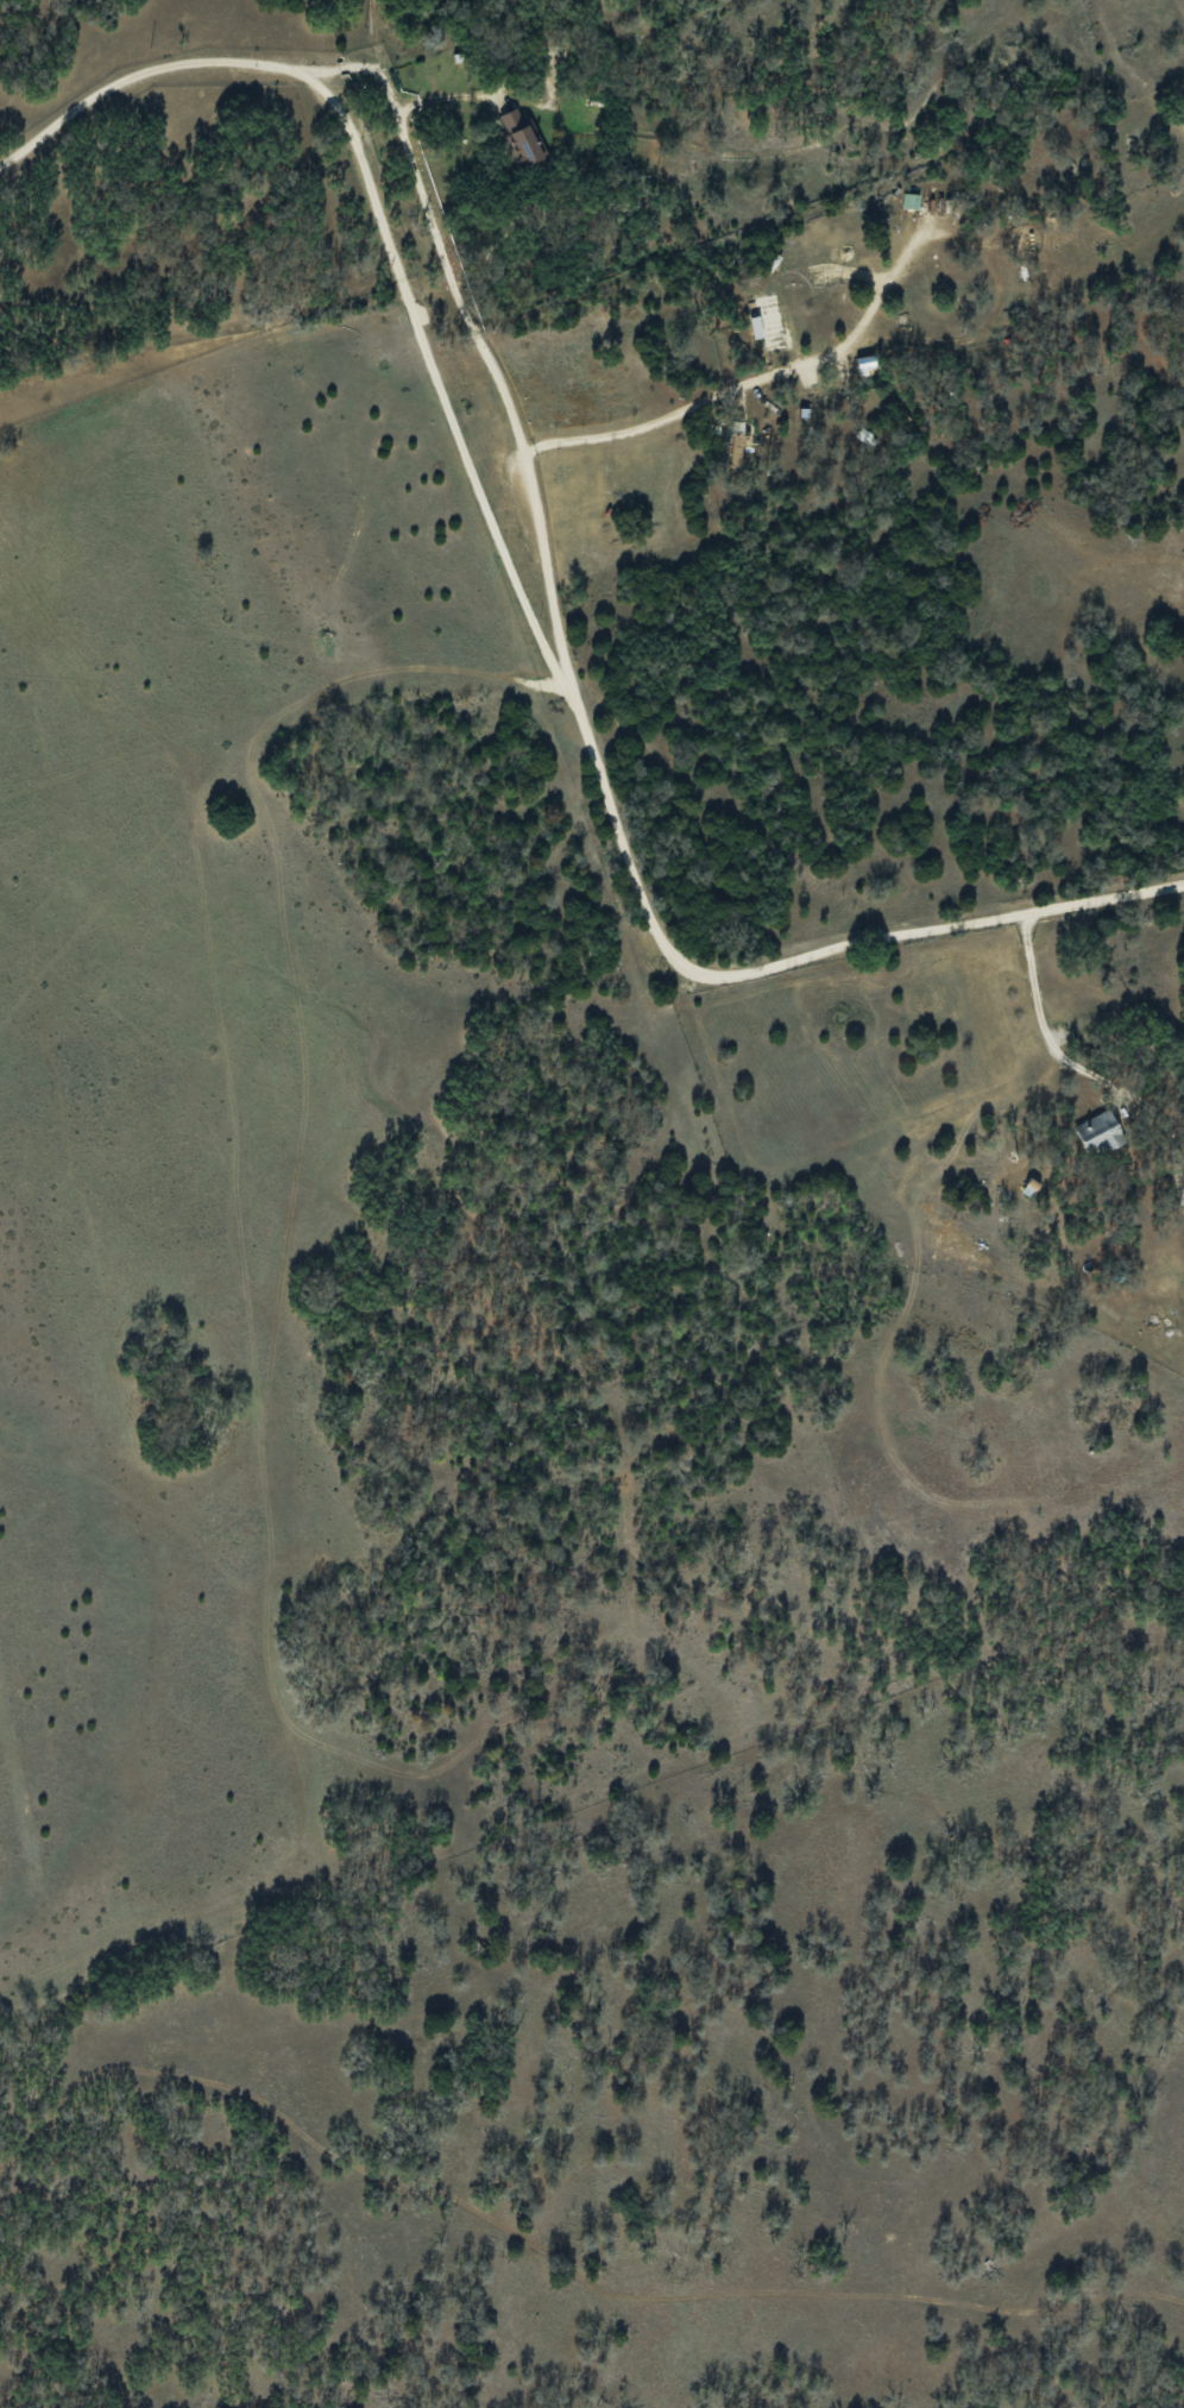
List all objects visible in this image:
road: (372, 32)
road: (174, 64)
building: (928, 199)
road: (748, 384)
road: (439, 389)
road: (596, 761)
road: (1035, 1005)

